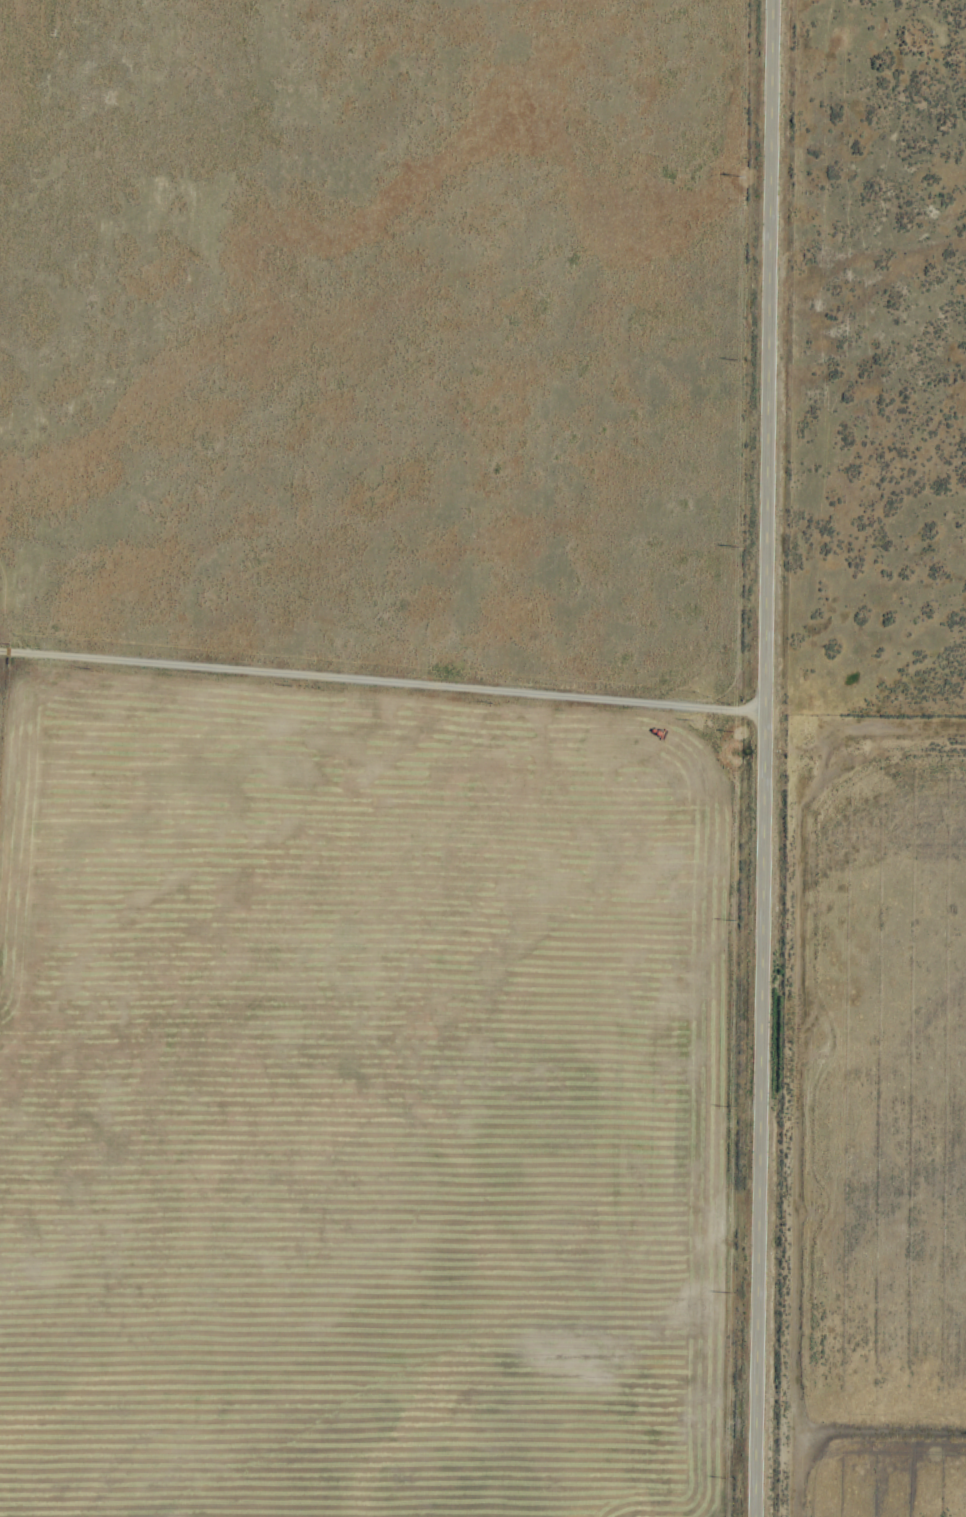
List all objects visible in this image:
road: (380, 679)
crop: (483, 758)
road: (759, 758)

